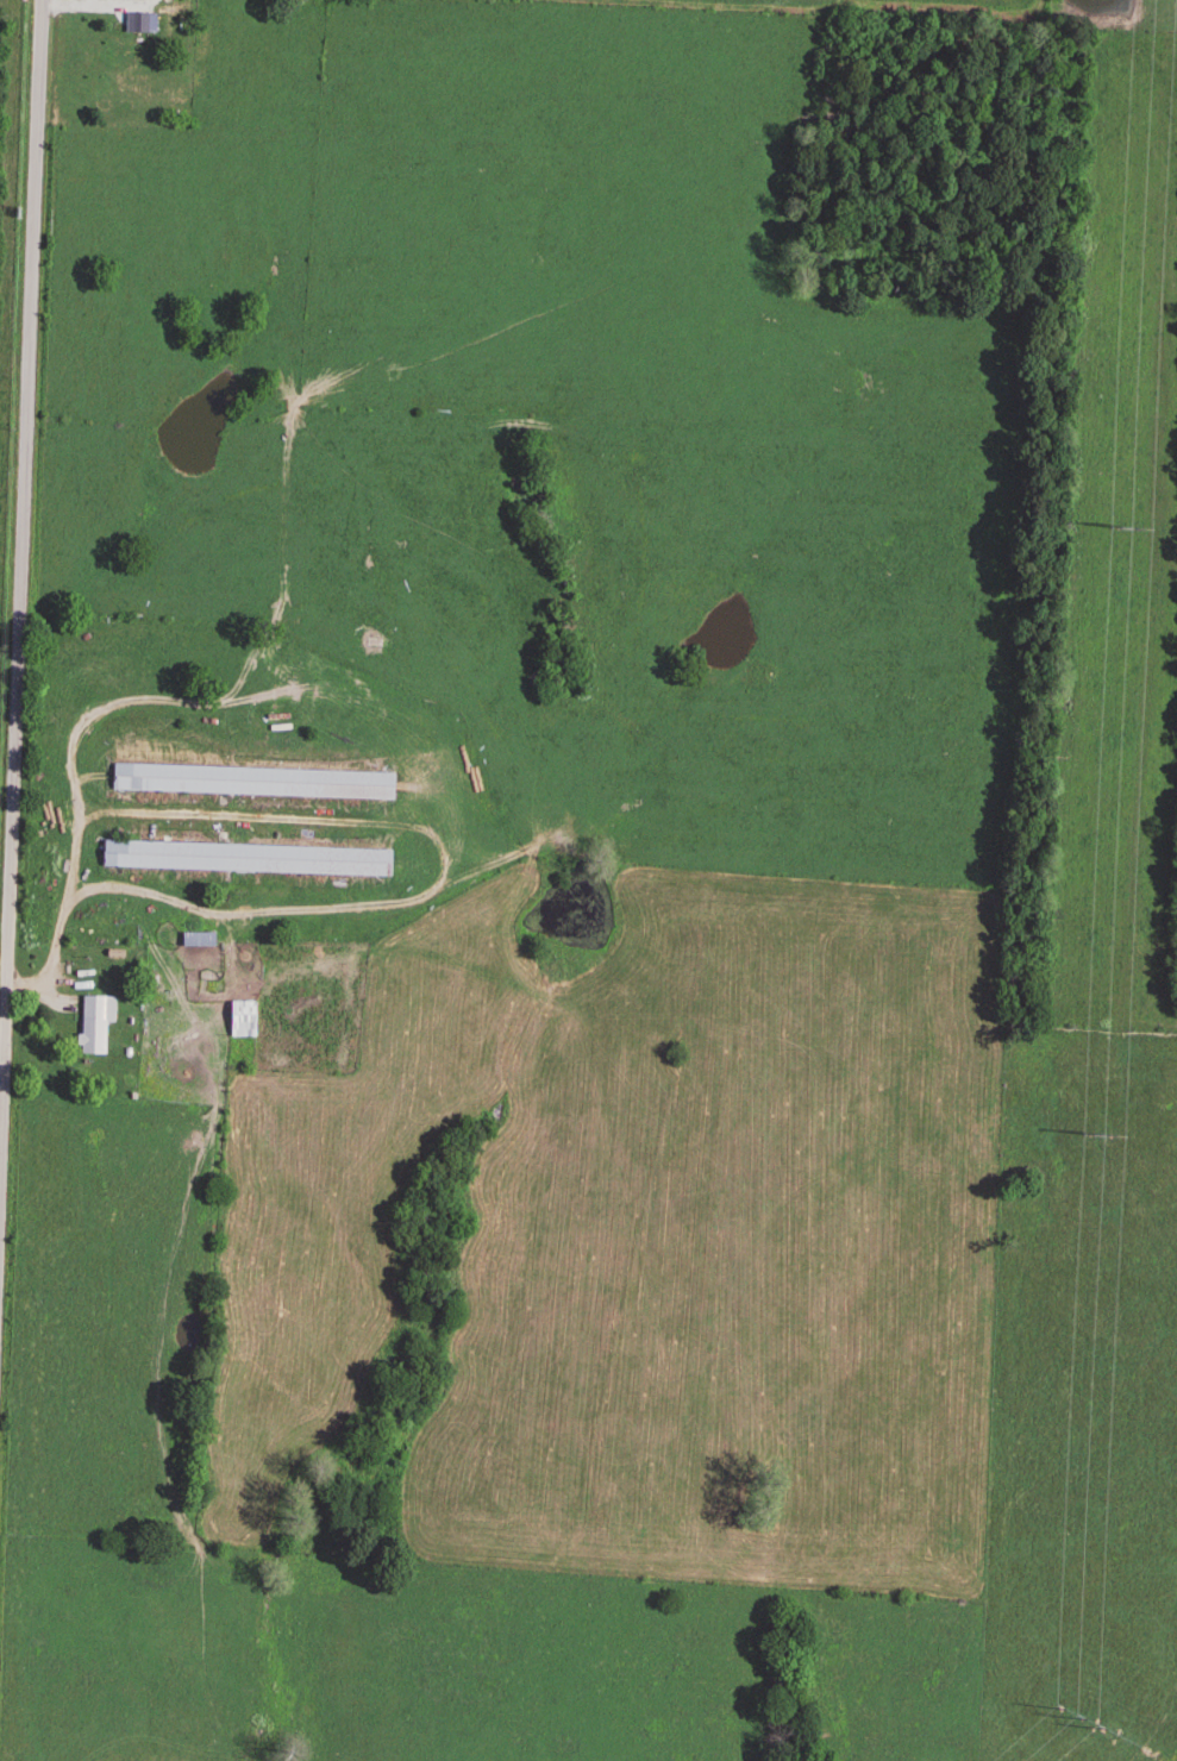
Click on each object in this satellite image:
building: (134, 19)
power tower: (1119, 528)
road: (20, 601)
building: (250, 784)
building: (244, 861)
road: (64, 900)
building: (239, 1022)
building: (94, 1026)
power tower: (1090, 1141)
power tower: (1062, 1713)

